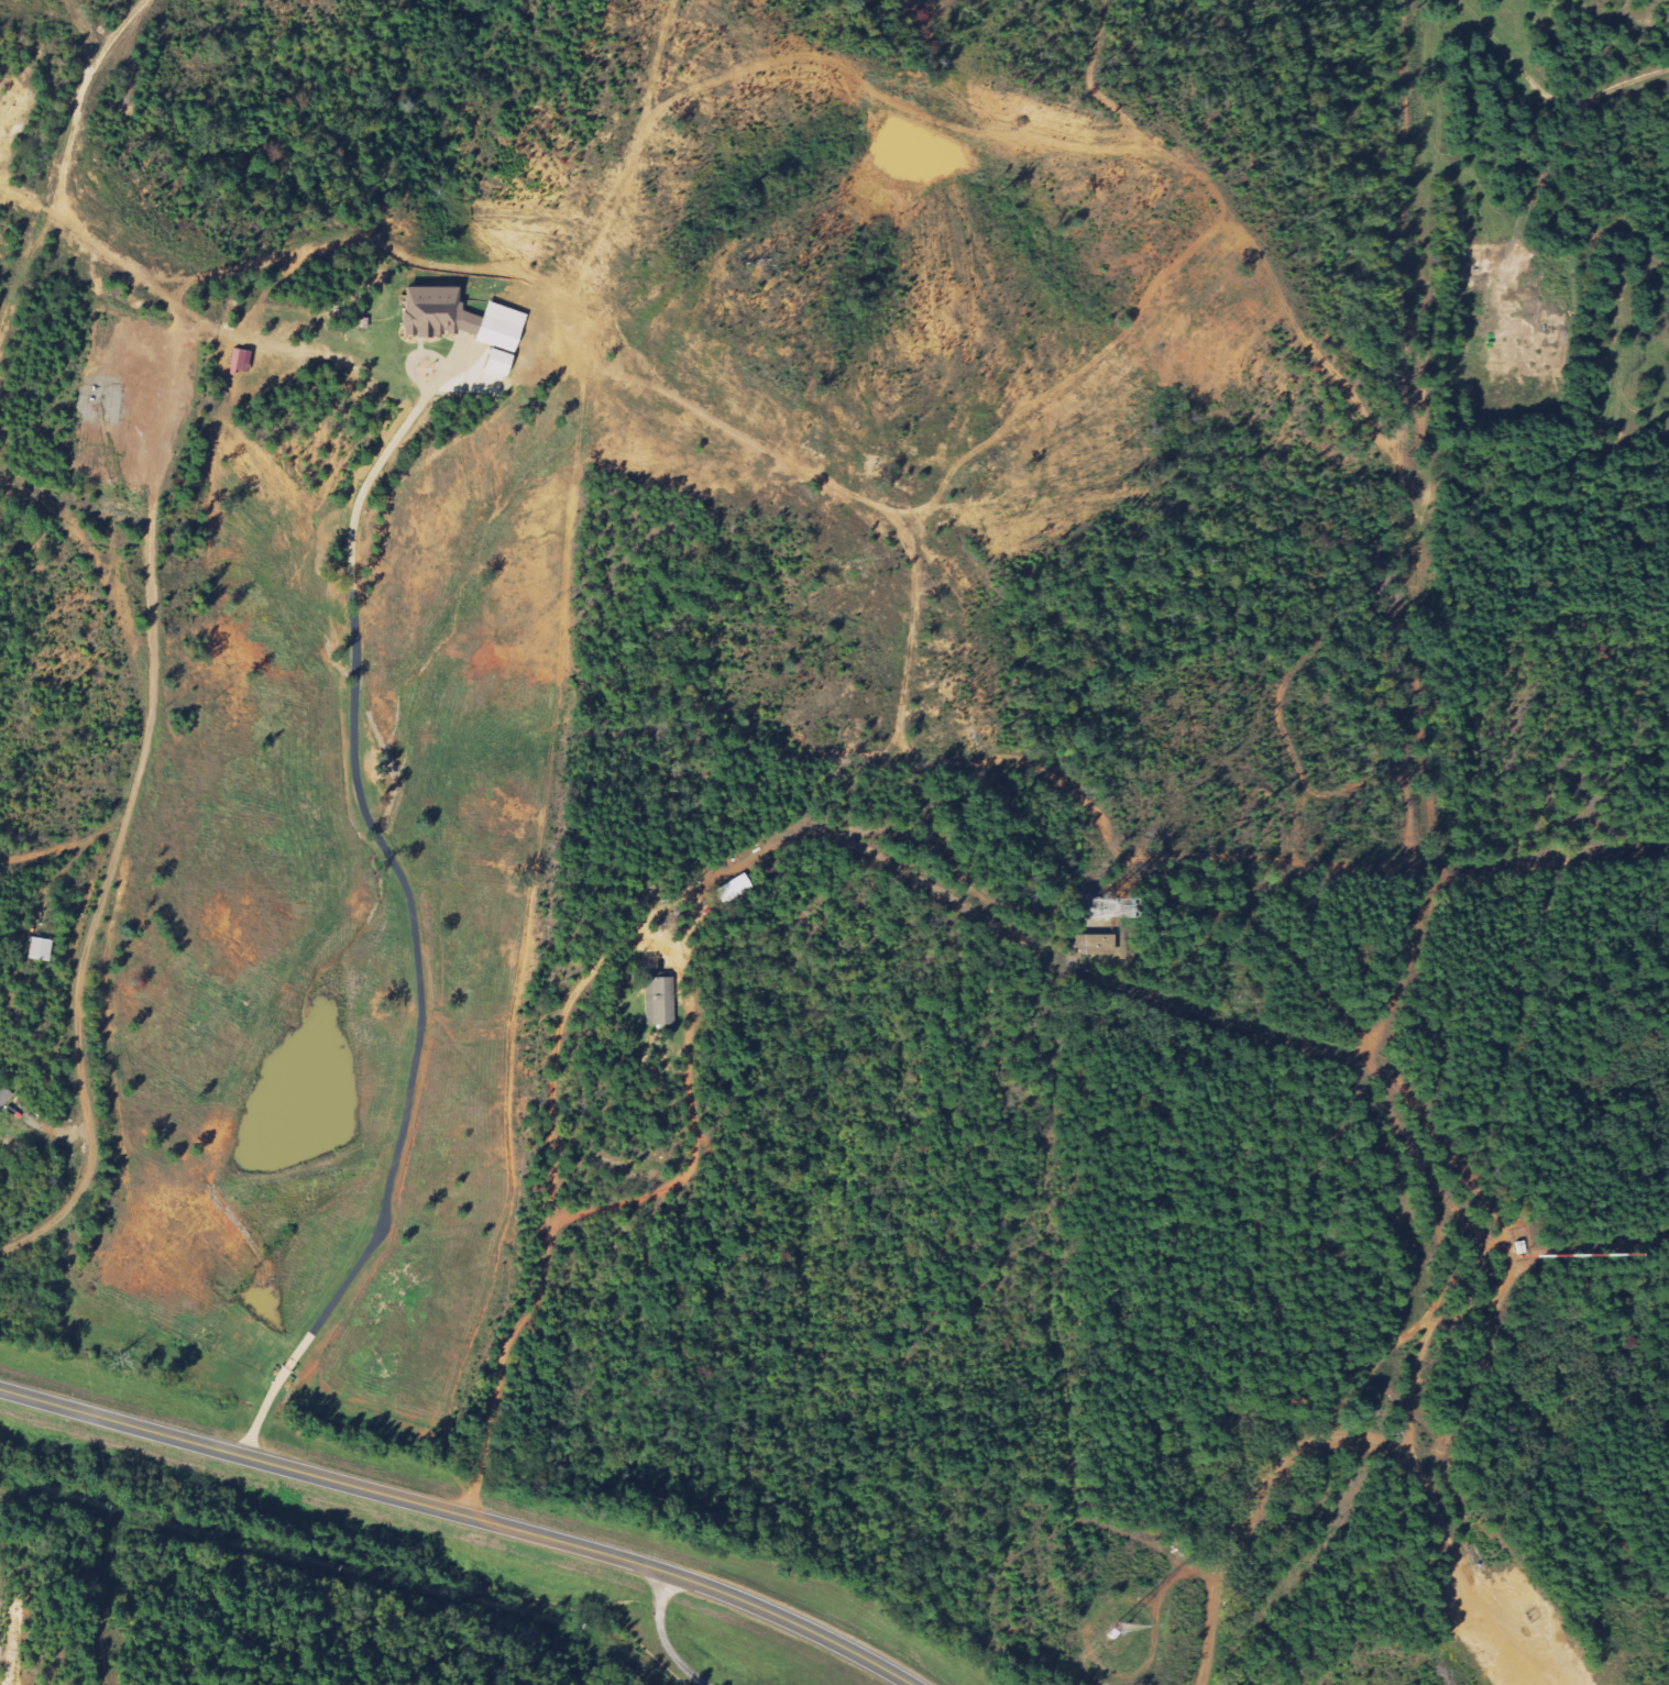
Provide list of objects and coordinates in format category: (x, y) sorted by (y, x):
building: (458, 318)
building: (239, 361)
building: (492, 363)
road: (160, 429)
building: (737, 888)
road: (100, 902)
building: (1098, 908)
building: (1091, 944)
building: (44, 948)
building: (662, 1001)
building: (6, 1098)
road: (1412, 1153)
building: (1525, 1242)
road: (1459, 1317)
road: (1402, 1411)
road: (1425, 1488)
road: (463, 1515)
road: (1218, 1567)
road: (661, 1636)

